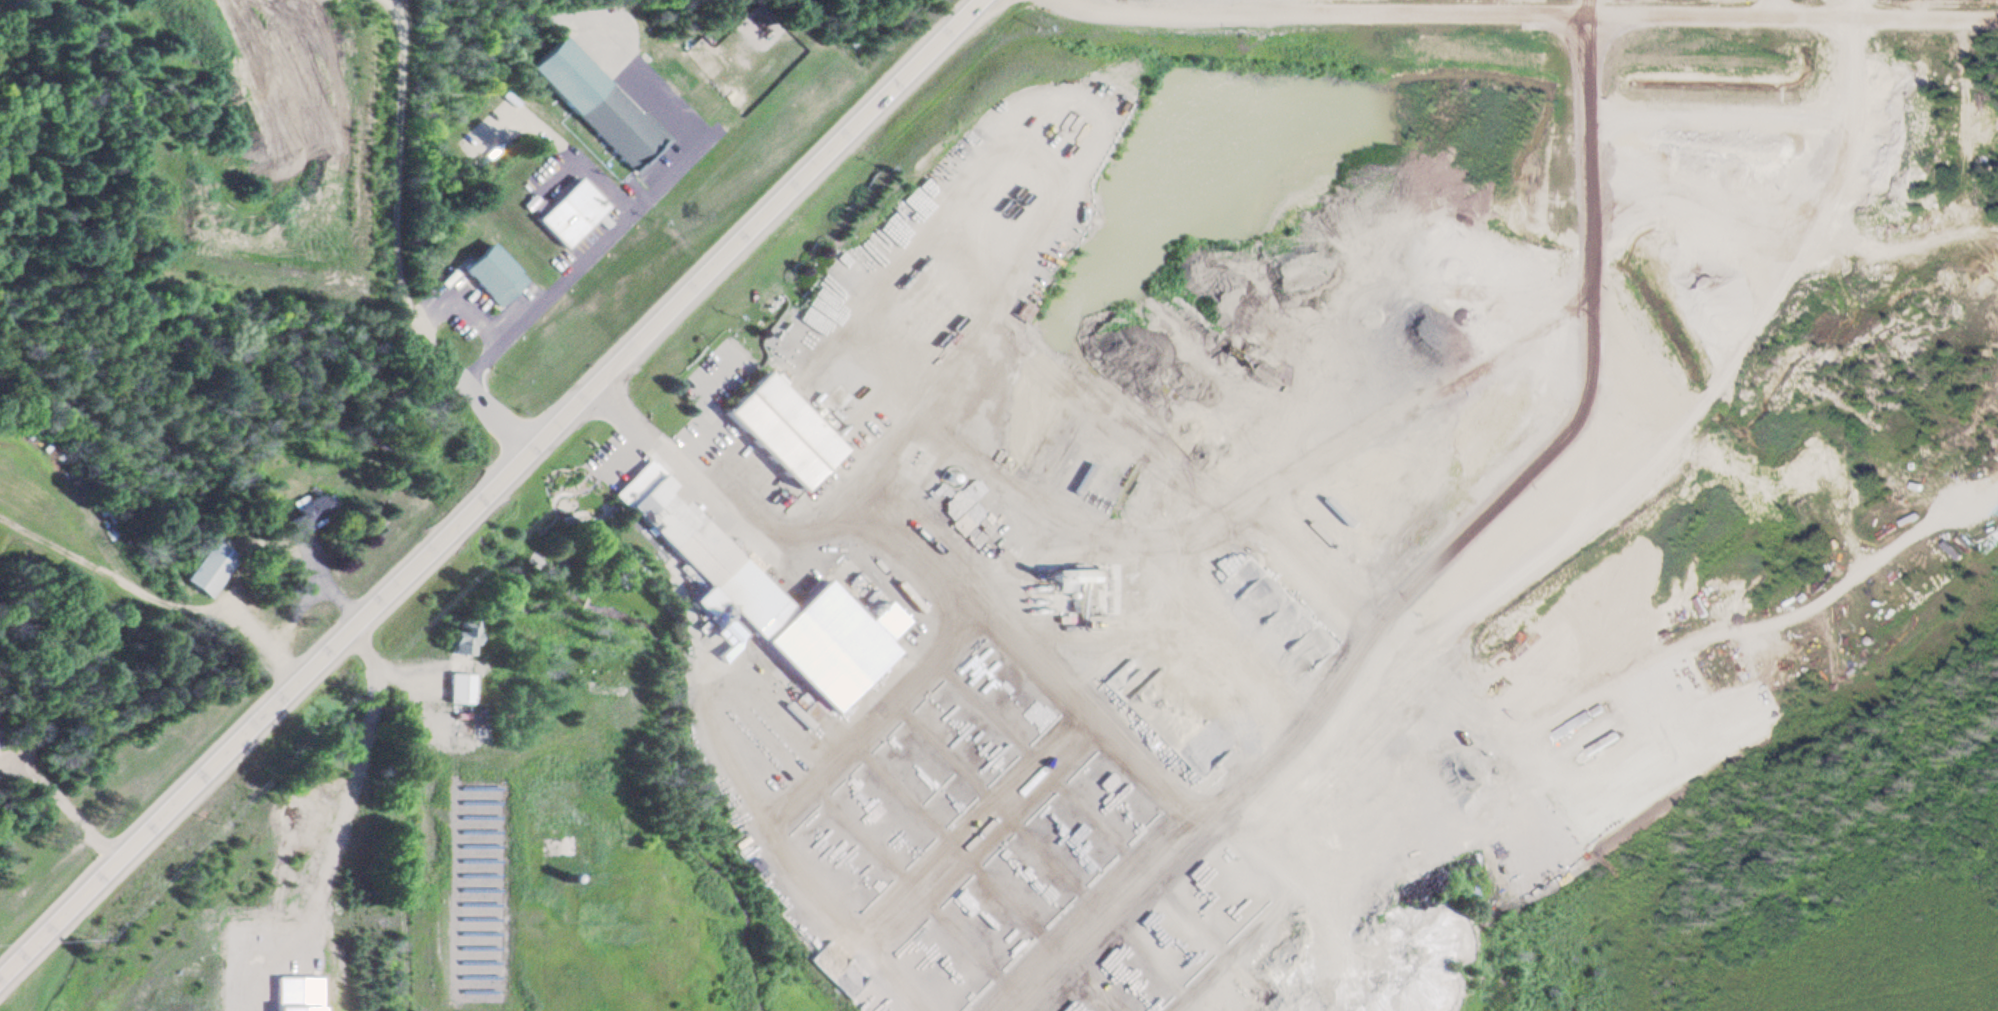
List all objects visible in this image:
road: (1850, 10)
road: (1531, 16)
building: (599, 108)
building: (571, 216)
building: (494, 278)
road: (451, 373)
building: (786, 432)
road: (489, 488)
building: (309, 511)
building: (699, 550)
building: (211, 570)
building: (1079, 577)
building: (461, 635)
building: (459, 690)
building: (1583, 724)
building: (548, 768)
road: (59, 804)
road: (406, 811)

